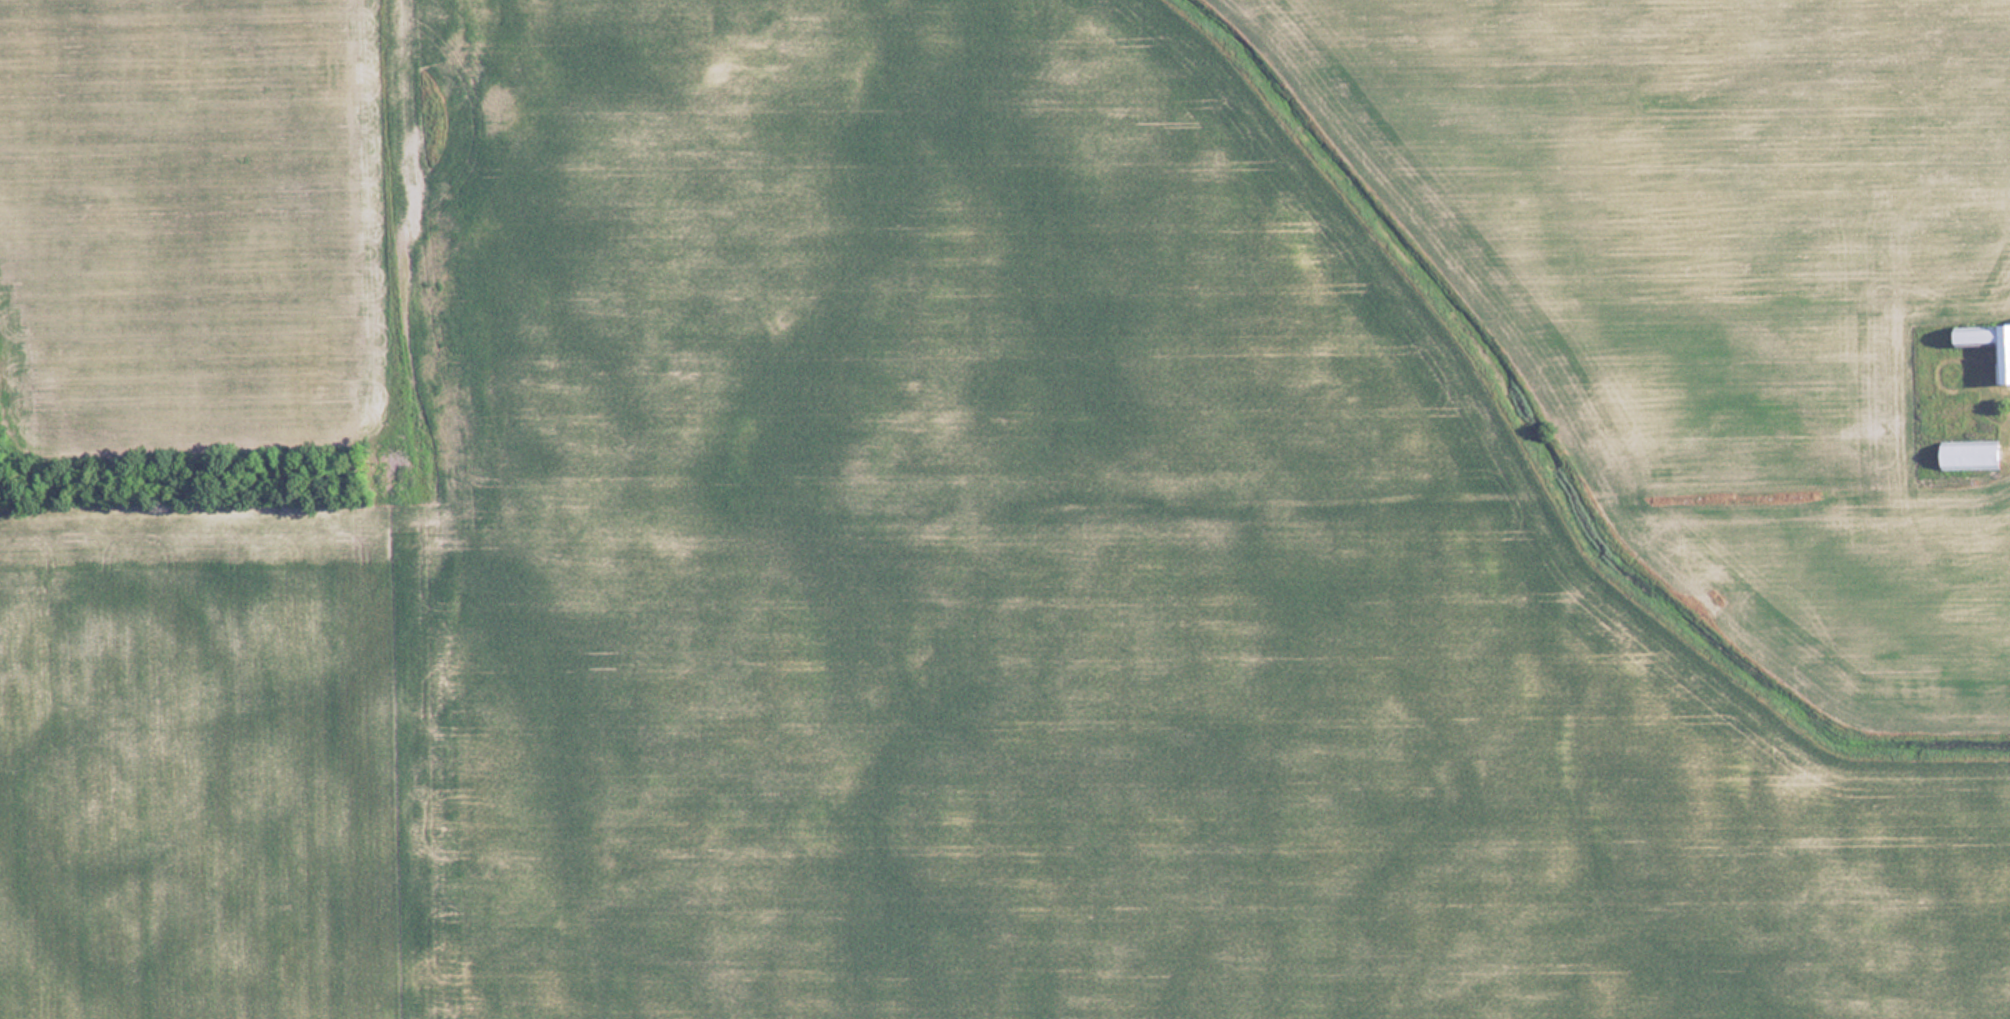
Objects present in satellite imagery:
building: (1988, 344)
building: (1968, 454)

